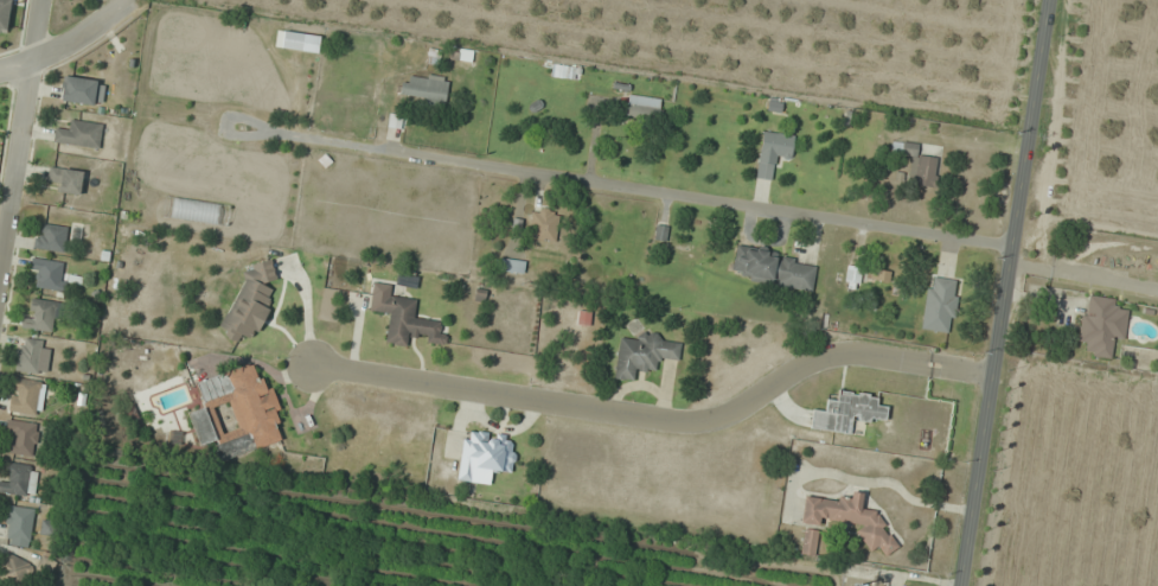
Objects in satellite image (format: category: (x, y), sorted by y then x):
building: (5, 14)
building: (298, 40)
road: (70, 43)
building: (569, 71)
building: (424, 89)
building: (83, 90)
building: (642, 107)
road: (19, 134)
building: (81, 134)
building: (773, 152)
building: (917, 164)
building: (68, 179)
road: (625, 186)
building: (543, 224)
building: (51, 237)
building: (512, 265)
building: (773, 268)
building: (49, 272)
road: (1006, 293)
building: (249, 302)
building: (940, 304)
building: (43, 313)
building: (403, 317)
building: (1101, 324)
building: (28, 353)
building: (642, 353)
building: (25, 395)
building: (847, 412)
building: (235, 413)
road: (660, 421)
building: (23, 438)
building: (486, 457)
building: (18, 478)
building: (849, 518)
building: (19, 526)
building: (808, 543)
building: (13, 569)

